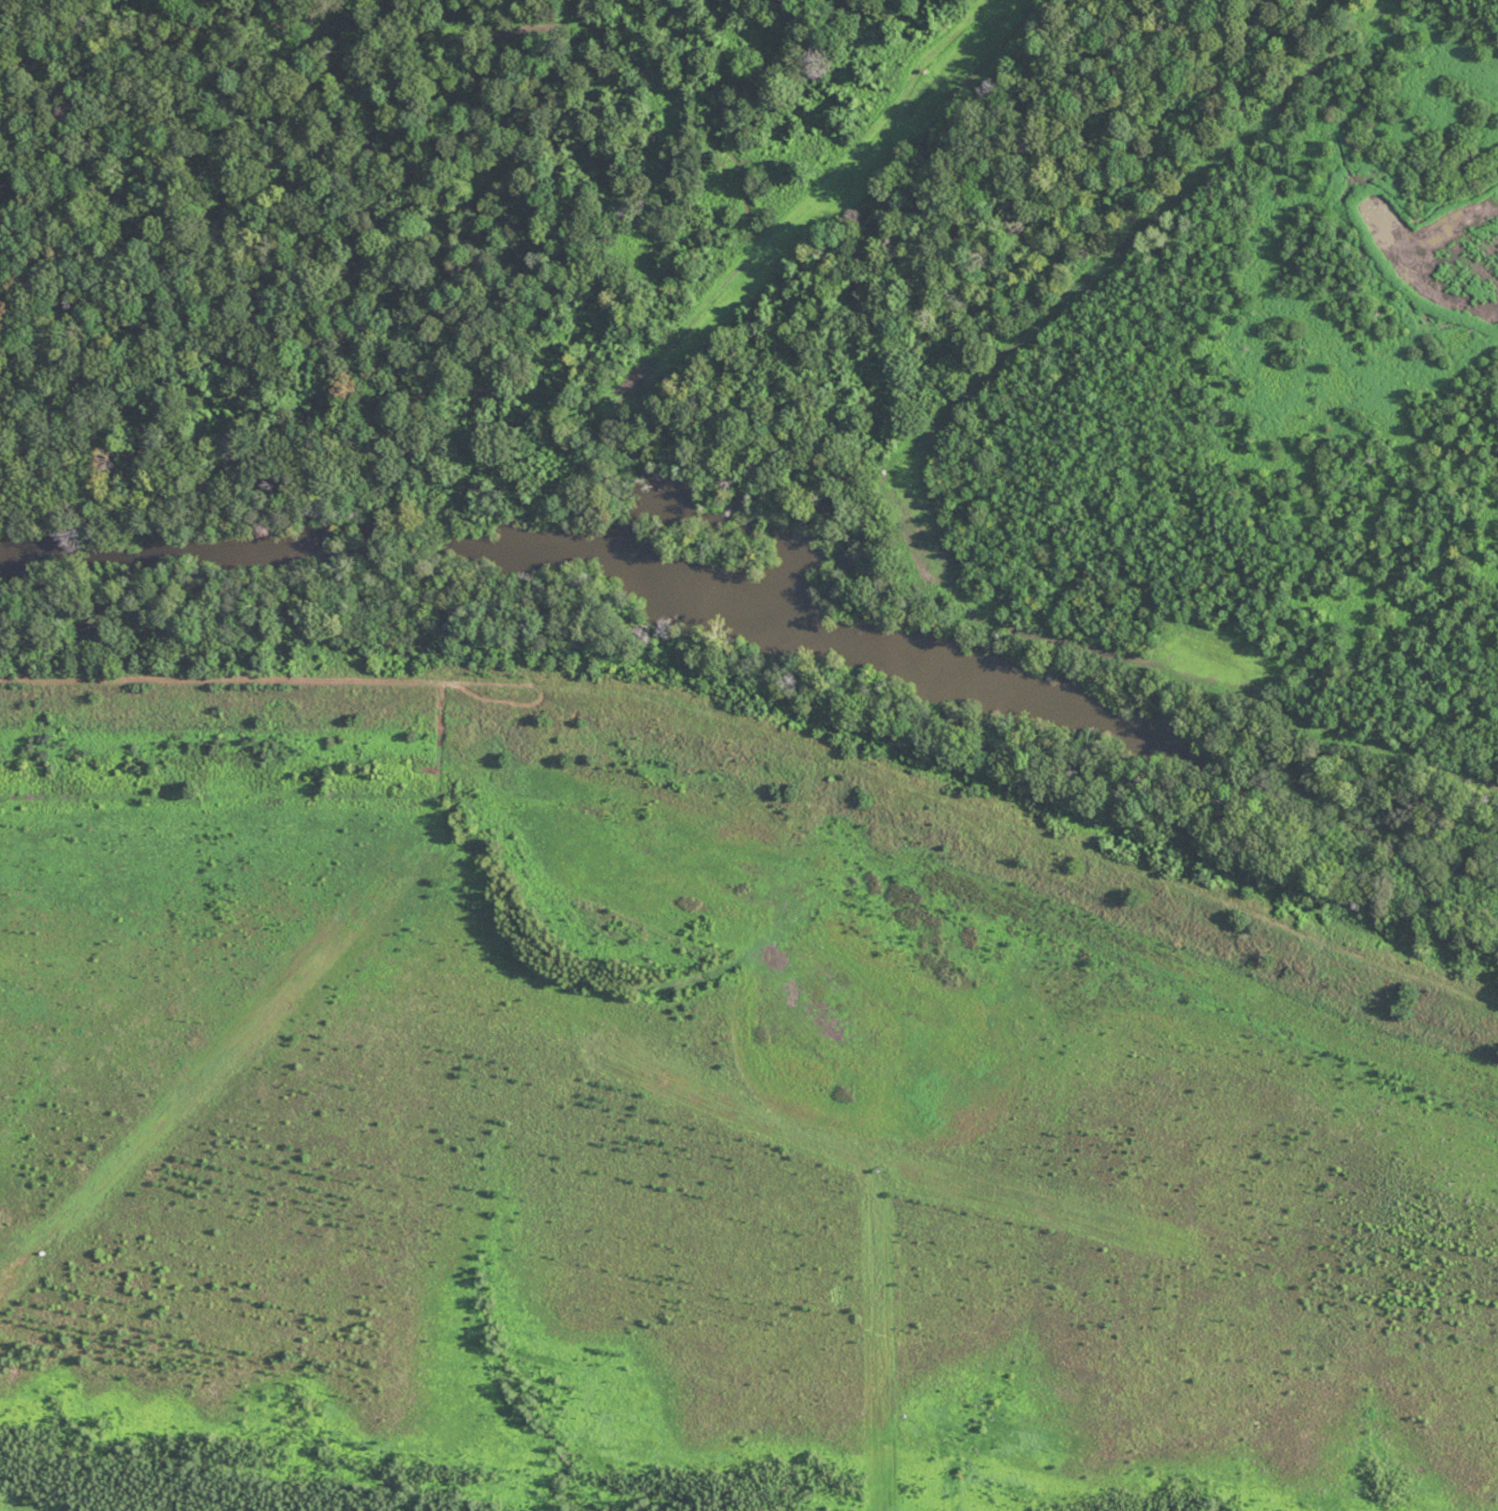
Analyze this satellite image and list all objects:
road: (774, 725)

